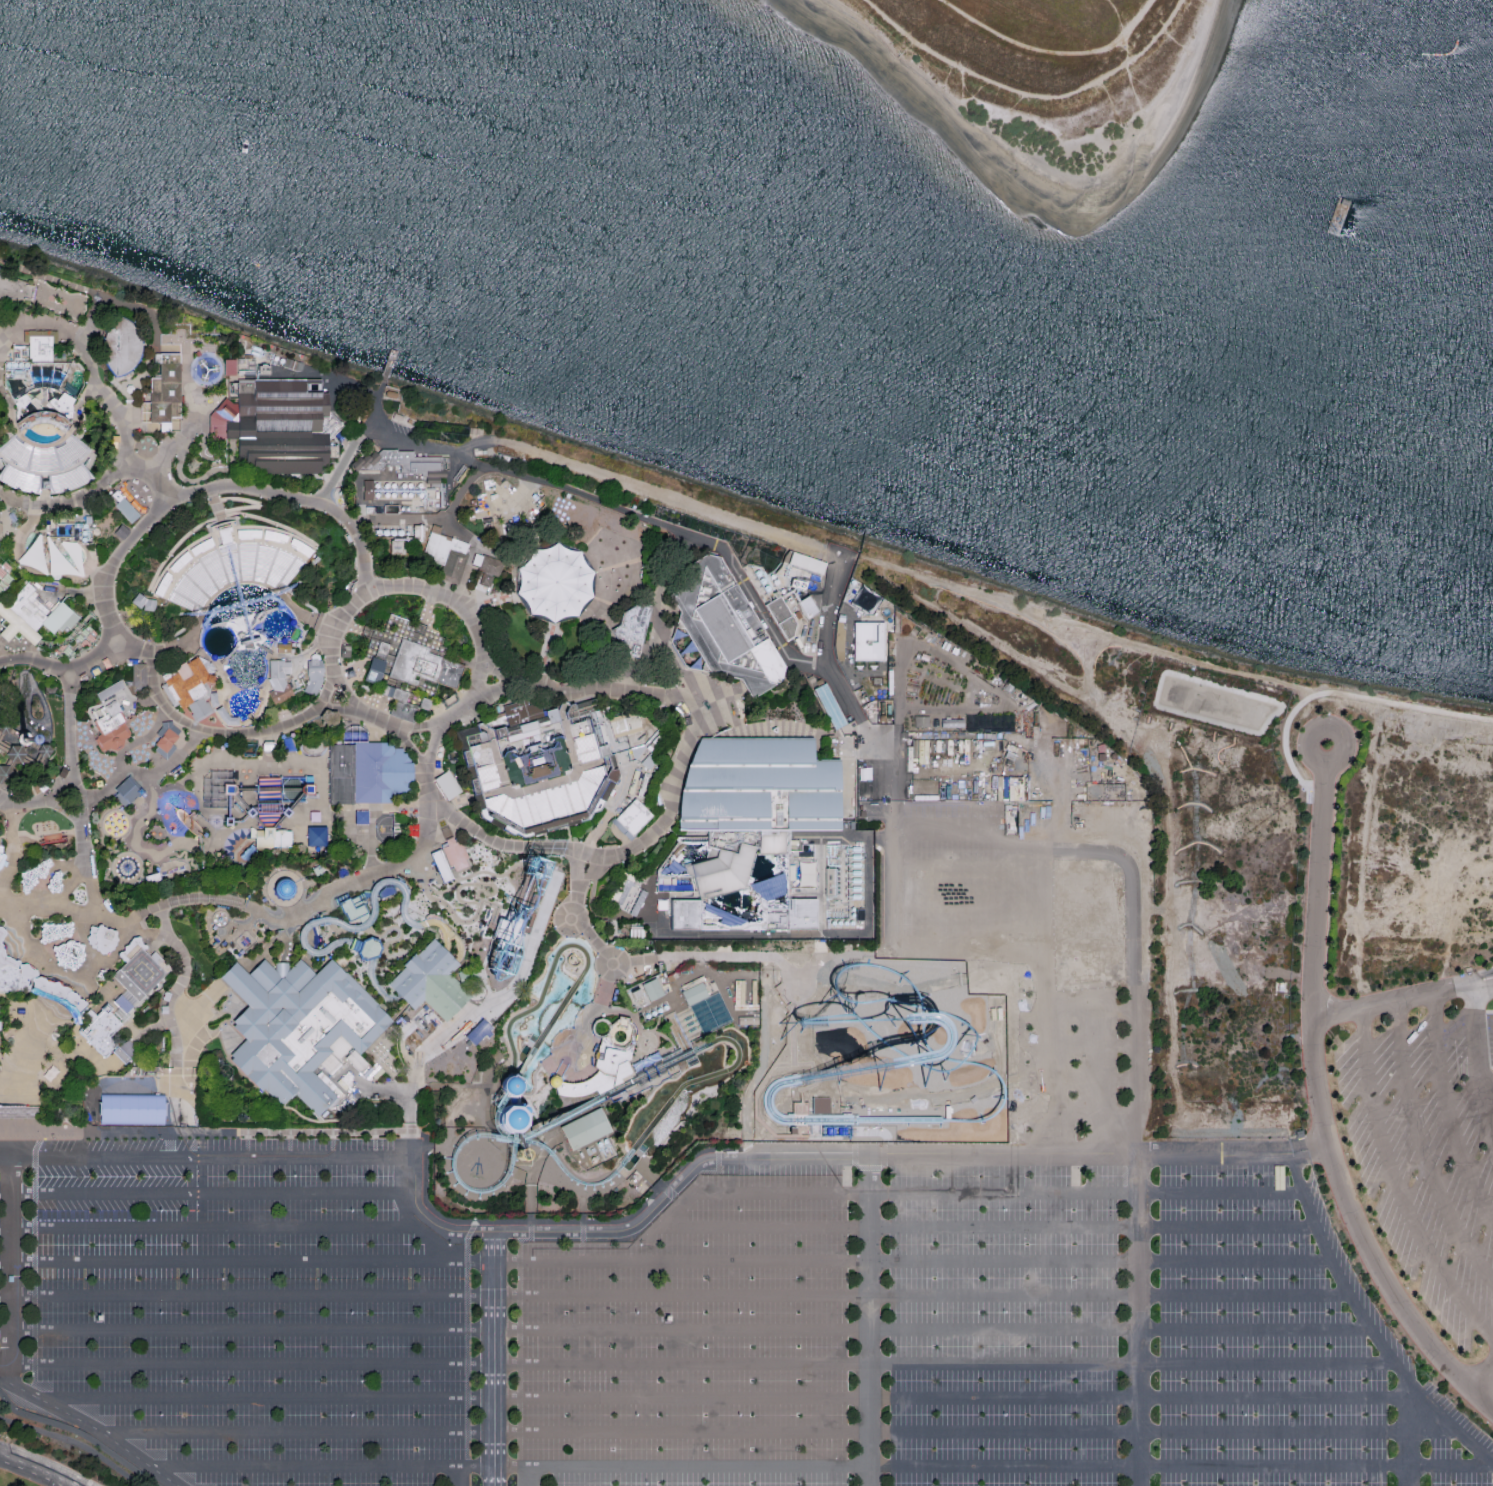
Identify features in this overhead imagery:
road: (1108, 17)
road: (1039, 72)
park: (1038, 77)
road: (72, 288)
building: (14, 290)
building: (51, 314)
road: (10, 329)
road: (96, 333)
road: (154, 343)
road: (146, 346)
building: (36, 348)
building: (121, 350)
road: (84, 353)
pier: (388, 366)
building: (229, 369)
building: (261, 371)
road: (262, 377)
building: (128, 392)
building: (162, 395)
building: (21, 399)
road: (193, 399)
road: (224, 399)
building: (62, 403)
road: (199, 403)
road: (204, 415)
building: (397, 421)
road: (83, 423)
building: (411, 425)
road: (4, 428)
building: (278, 428)
road: (155, 431)
building: (474, 434)
road: (53, 446)
road: (202, 456)
road: (95, 458)
road: (468, 465)
building: (401, 467)
building: (44, 468)
stadium: (44, 468)
road: (153, 470)
road: (340, 474)
road: (37, 476)
road: (41, 479)
road: (201, 479)
road: (312, 479)
road: (15, 484)
road: (67, 484)
road: (629, 486)
road: (202, 490)
road: (213, 491)
road: (41, 492)
building: (368, 493)
road: (41, 497)
road: (4, 498)
building: (496, 498)
road: (75, 499)
road: (215, 500)
road: (255, 504)
road: (607, 508)
building: (389, 509)
building: (127, 510)
road: (522, 512)
park: (571, 516)
road: (219, 518)
road: (4, 521)
road: (215, 521)
road: (359, 521)
road: (352, 523)
building: (76, 524)
road: (14, 529)
road: (260, 529)
building: (120, 534)
road: (233, 537)
road: (254, 537)
road: (462, 537)
building: (220, 539)
road: (210, 544)
road: (264, 546)
building: (393, 548)
road: (181, 551)
building: (441, 553)
road: (186, 558)
building: (311, 562)
building: (807, 564)
road: (676, 565)
building: (488, 570)
road: (32, 571)
road: (184, 573)
building: (53, 578)
road: (237, 580)
road: (463, 584)
building: (554, 584)
road: (395, 586)
road: (84, 593)
road: (55, 595)
street lamp: (289, 599)
road: (488, 603)
building: (139, 605)
road: (427, 605)
building: (807, 611)
road: (584, 612)
road: (666, 612)
building: (33, 615)
street lamp: (311, 615)
street lamp: (196, 618)
building: (780, 620)
road: (608, 622)
road: (357, 627)
road: (609, 627)
building: (724, 630)
building: (633, 632)
road: (1, 638)
building: (459, 638)
street lamp: (180, 640)
road: (68, 641)
road: (1119, 641)
road: (326, 643)
building: (868, 643)
building: (282, 646)
building: (379, 650)
road: (12, 651)
building: (346, 652)
road: (664, 652)
road: (159, 653)
road: (98, 656)
road: (546, 656)
road: (617, 656)
road: (301, 658)
road: (37, 660)
street lamp: (205, 663)
road: (1028, 663)
road: (348, 664)
road: (961, 669)
building: (422, 670)
building: (348, 673)
building: (139, 676)
building: (314, 678)
building: (370, 679)
road: (507, 679)
building: (279, 684)
crop: (942, 686)
building: (108, 688)
building: (188, 690)
road: (1332, 697)
road: (715, 703)
building: (423, 704)
road: (566, 704)
road: (339, 707)
building: (400, 708)
street lamp: (80, 709)
building: (828, 709)
road: (441, 710)
road: (72, 714)
building: (522, 717)
building: (845, 719)
road: (378, 721)
road: (765, 725)
street lamp: (62, 726)
building: (107, 727)
building: (624, 727)
building: (3, 729)
road: (419, 729)
road: (11, 734)
road: (231, 736)
building: (529, 736)
building: (481, 738)
building: (22, 740)
building: (165, 742)
road: (561, 742)
road: (140, 743)
road: (568, 743)
road: (838, 743)
road: (34, 747)
building: (286, 747)
road: (410, 748)
building: (268, 749)
road: (494, 749)
road: (12, 752)
building: (42, 753)
building: (635, 753)
road: (8, 754)
building: (14, 757)
building: (649, 760)
road: (24, 762)
road: (70, 762)
road: (604, 762)
road: (254, 764)
road: (28, 766)
stadium: (539, 767)
building: (437, 768)
building: (482, 770)
building: (602, 772)
building: (5, 773)
theme park: (433, 773)
road: (846, 773)
road: (418, 774)
road: (576, 774)
building: (367, 776)
road: (573, 777)
road: (148, 781)
road: (674, 781)
building: (634, 783)
building: (444, 786)
road: (544, 786)
road: (1, 787)
building: (44, 788)
building: (758, 788)
building: (220, 791)
road: (617, 791)
building: (127, 794)
road: (246, 797)
road: (428, 800)
road: (468, 800)
road: (36, 801)
road: (2, 806)
building: (276, 807)
road: (59, 810)
road: (200, 810)
road: (390, 813)
building: (248, 814)
road: (374, 814)
building: (312, 815)
building: (634, 819)
building: (361, 820)
building: (227, 824)
building: (187, 825)
road: (610, 829)
road: (236, 830)
building: (444, 831)
park: (381, 833)
road: (596, 837)
building: (316, 839)
road: (844, 839)
building: (282, 841)
road: (568, 841)
road: (623, 841)
road: (82, 842)
road: (543, 842)
road: (894, 847)
road: (1070, 849)
building: (3, 853)
street lamp: (93, 854)
building: (249, 855)
road: (14, 856)
building: (450, 860)
road: (974, 870)
street lamp: (97, 873)
building: (720, 873)
road: (47, 875)
road: (595, 875)
building: (33, 876)
building: (807, 877)
building: (150, 880)
building: (830, 881)
building: (54, 883)
road: (73, 883)
road: (335, 887)
building: (628, 896)
road: (197, 899)
road: (975, 904)
building: (660, 905)
road: (879, 905)
road: (818, 907)
building: (354, 908)
road: (1057, 913)
road: (86, 915)
building: (795, 918)
road: (602, 920)
building: (504, 927)
building: (55, 932)
road: (800, 935)
building: (101, 939)
road: (84, 941)
road: (289, 941)
road: (976, 942)
road: (54, 944)
building: (366, 947)
building: (2, 949)
road: (2, 950)
road: (16, 953)
building: (69, 955)
road: (651, 962)
road: (837, 963)
road: (249, 965)
building: (139, 971)
building: (101, 974)
parking lot: (1034, 975)
building: (9, 976)
road: (51, 976)
road: (60, 976)
road: (1056, 978)
road: (184, 979)
road: (471, 979)
building: (467, 980)
building: (430, 982)
building: (48, 983)
building: (708, 985)
road: (45, 988)
building: (8, 989)
road: (605, 989)
toll booth: (44, 993)
building: (652, 993)
building: (635, 997)
building: (693, 997)
building: (54, 998)
road: (1402, 999)
building: (393, 1005)
building: (122, 1008)
road: (675, 1010)
road: (1083, 1013)
road: (628, 1017)
building: (748, 1019)
road: (168, 1024)
road: (764, 1025)
building: (0, 1026)
building: (600, 1026)
building: (298, 1029)
road: (135, 1030)
building: (99, 1031)
building: (620, 1031)
road: (215, 1032)
road: (575, 1036)
road: (584, 1039)
road: (663, 1039)
road: (596, 1044)
road: (1087, 1045)
road: (1476, 1050)
road: (29, 1051)
building: (125, 1052)
road: (122, 1054)
toll booth: (118, 1058)
building: (610, 1062)
building: (644, 1065)
road: (66, 1066)
road: (560, 1072)
building: (52, 1073)
fountain: (687, 1077)
road: (1090, 1079)
road: (417, 1080)
building: (552, 1083)
road: (650, 1085)
road: (466, 1087)
fountain: (671, 1087)
building: (505, 1090)
building: (573, 1092)
road: (402, 1098)
road: (620, 1099)
fountain: (658, 1101)
road: (1319, 1103)
road: (177, 1105)
building: (821, 1105)
building: (799, 1107)
building: (135, 1109)
building: (16, 1110)
road: (1449, 1112)
road: (1092, 1114)
road: (1489, 1115)
fountain: (678, 1116)
building: (507, 1119)
building: (800, 1129)
building: (584, 1132)
fountain: (662, 1134)
road: (426, 1135)
building: (223, 1138)
road: (1420, 1151)
road: (896, 1153)
parking lot: (1429, 1153)
road: (279, 1156)
building: (517, 1157)
road: (531, 1179)
road: (1394, 1188)
road: (7, 1193)
road: (986, 1193)
road: (207, 1194)
road: (401, 1204)
street lamp: (1000, 1209)
street lamp: (348, 1210)
road: (202, 1226)
road: (977, 1227)
road: (1140, 1233)
road: (14, 1261)
road: (247, 1262)
road: (912, 1262)
street lamp: (1240, 1278)
road: (247, 1296)
road: (921, 1297)
street lamp: (735, 1312)
street lamp: (1001, 1312)
road: (873, 1320)
road: (1365, 1323)
parking lot: (706, 1327)
road: (247, 1330)
road: (932, 1331)
road: (495, 1360)
road: (254, 1364)
road: (7, 1365)
road: (944, 1365)
road: (1482, 1379)
street lamp: (361, 1380)
road: (8, 1381)
road: (266, 1398)
road: (951, 1399)
street lamp: (1000, 1414)
street lamp: (1239, 1415)
street lamp: (735, 1416)
road: (92, 1425)
road: (297, 1431)
road: (975, 1433)
road: (1407, 1434)
road: (80, 1435)
road: (74, 1443)
road: (321, 1465)
road: (993, 1466)
road: (39, 1468)
road: (465, 1476)
road: (533, 1476)

